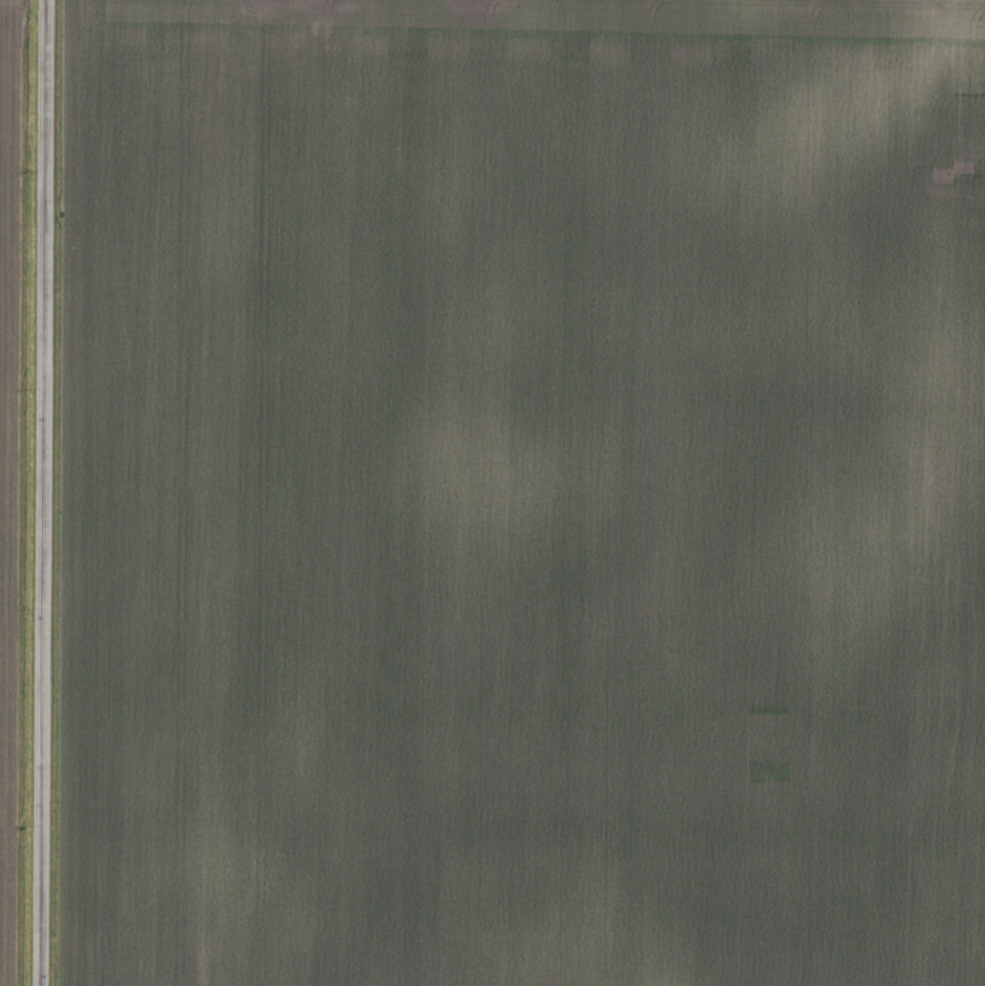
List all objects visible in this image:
road: (37, 493)

